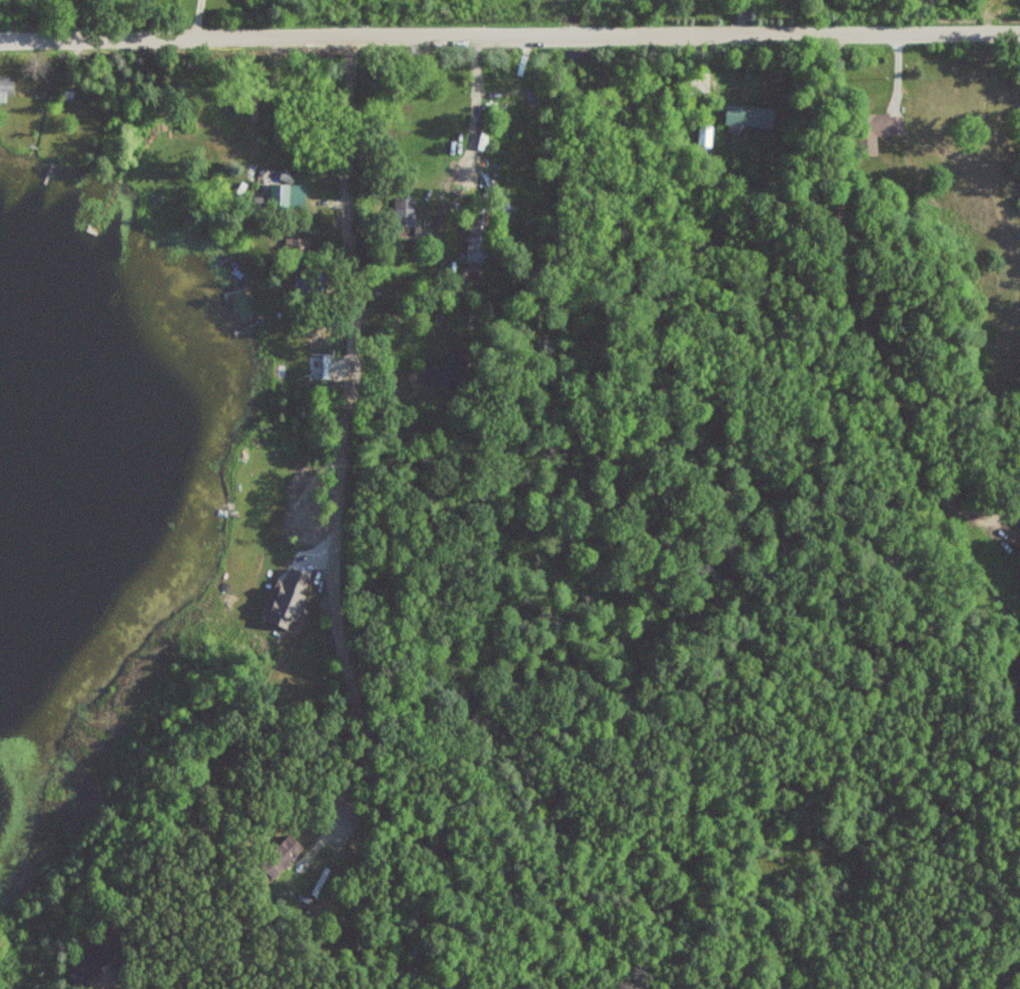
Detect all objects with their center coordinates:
road: (740, 17)
road: (510, 36)
building: (6, 86)
building: (747, 117)
building: (874, 130)
building: (285, 193)
building: (402, 217)
building: (478, 233)
building: (296, 248)
building: (309, 288)
road: (858, 308)
building: (319, 332)
building: (317, 369)
road: (348, 425)
building: (279, 858)
building: (89, 966)

